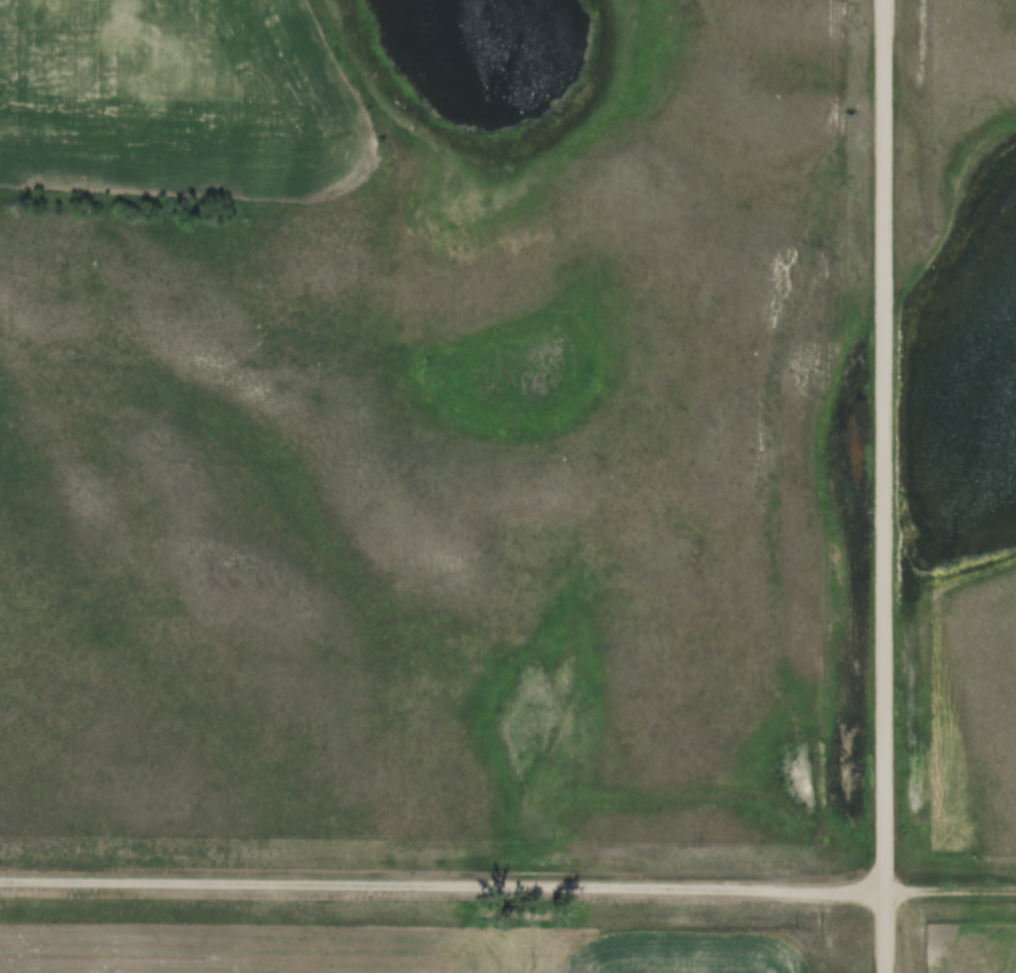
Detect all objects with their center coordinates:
road: (886, 486)
road: (445, 886)
road: (953, 889)

